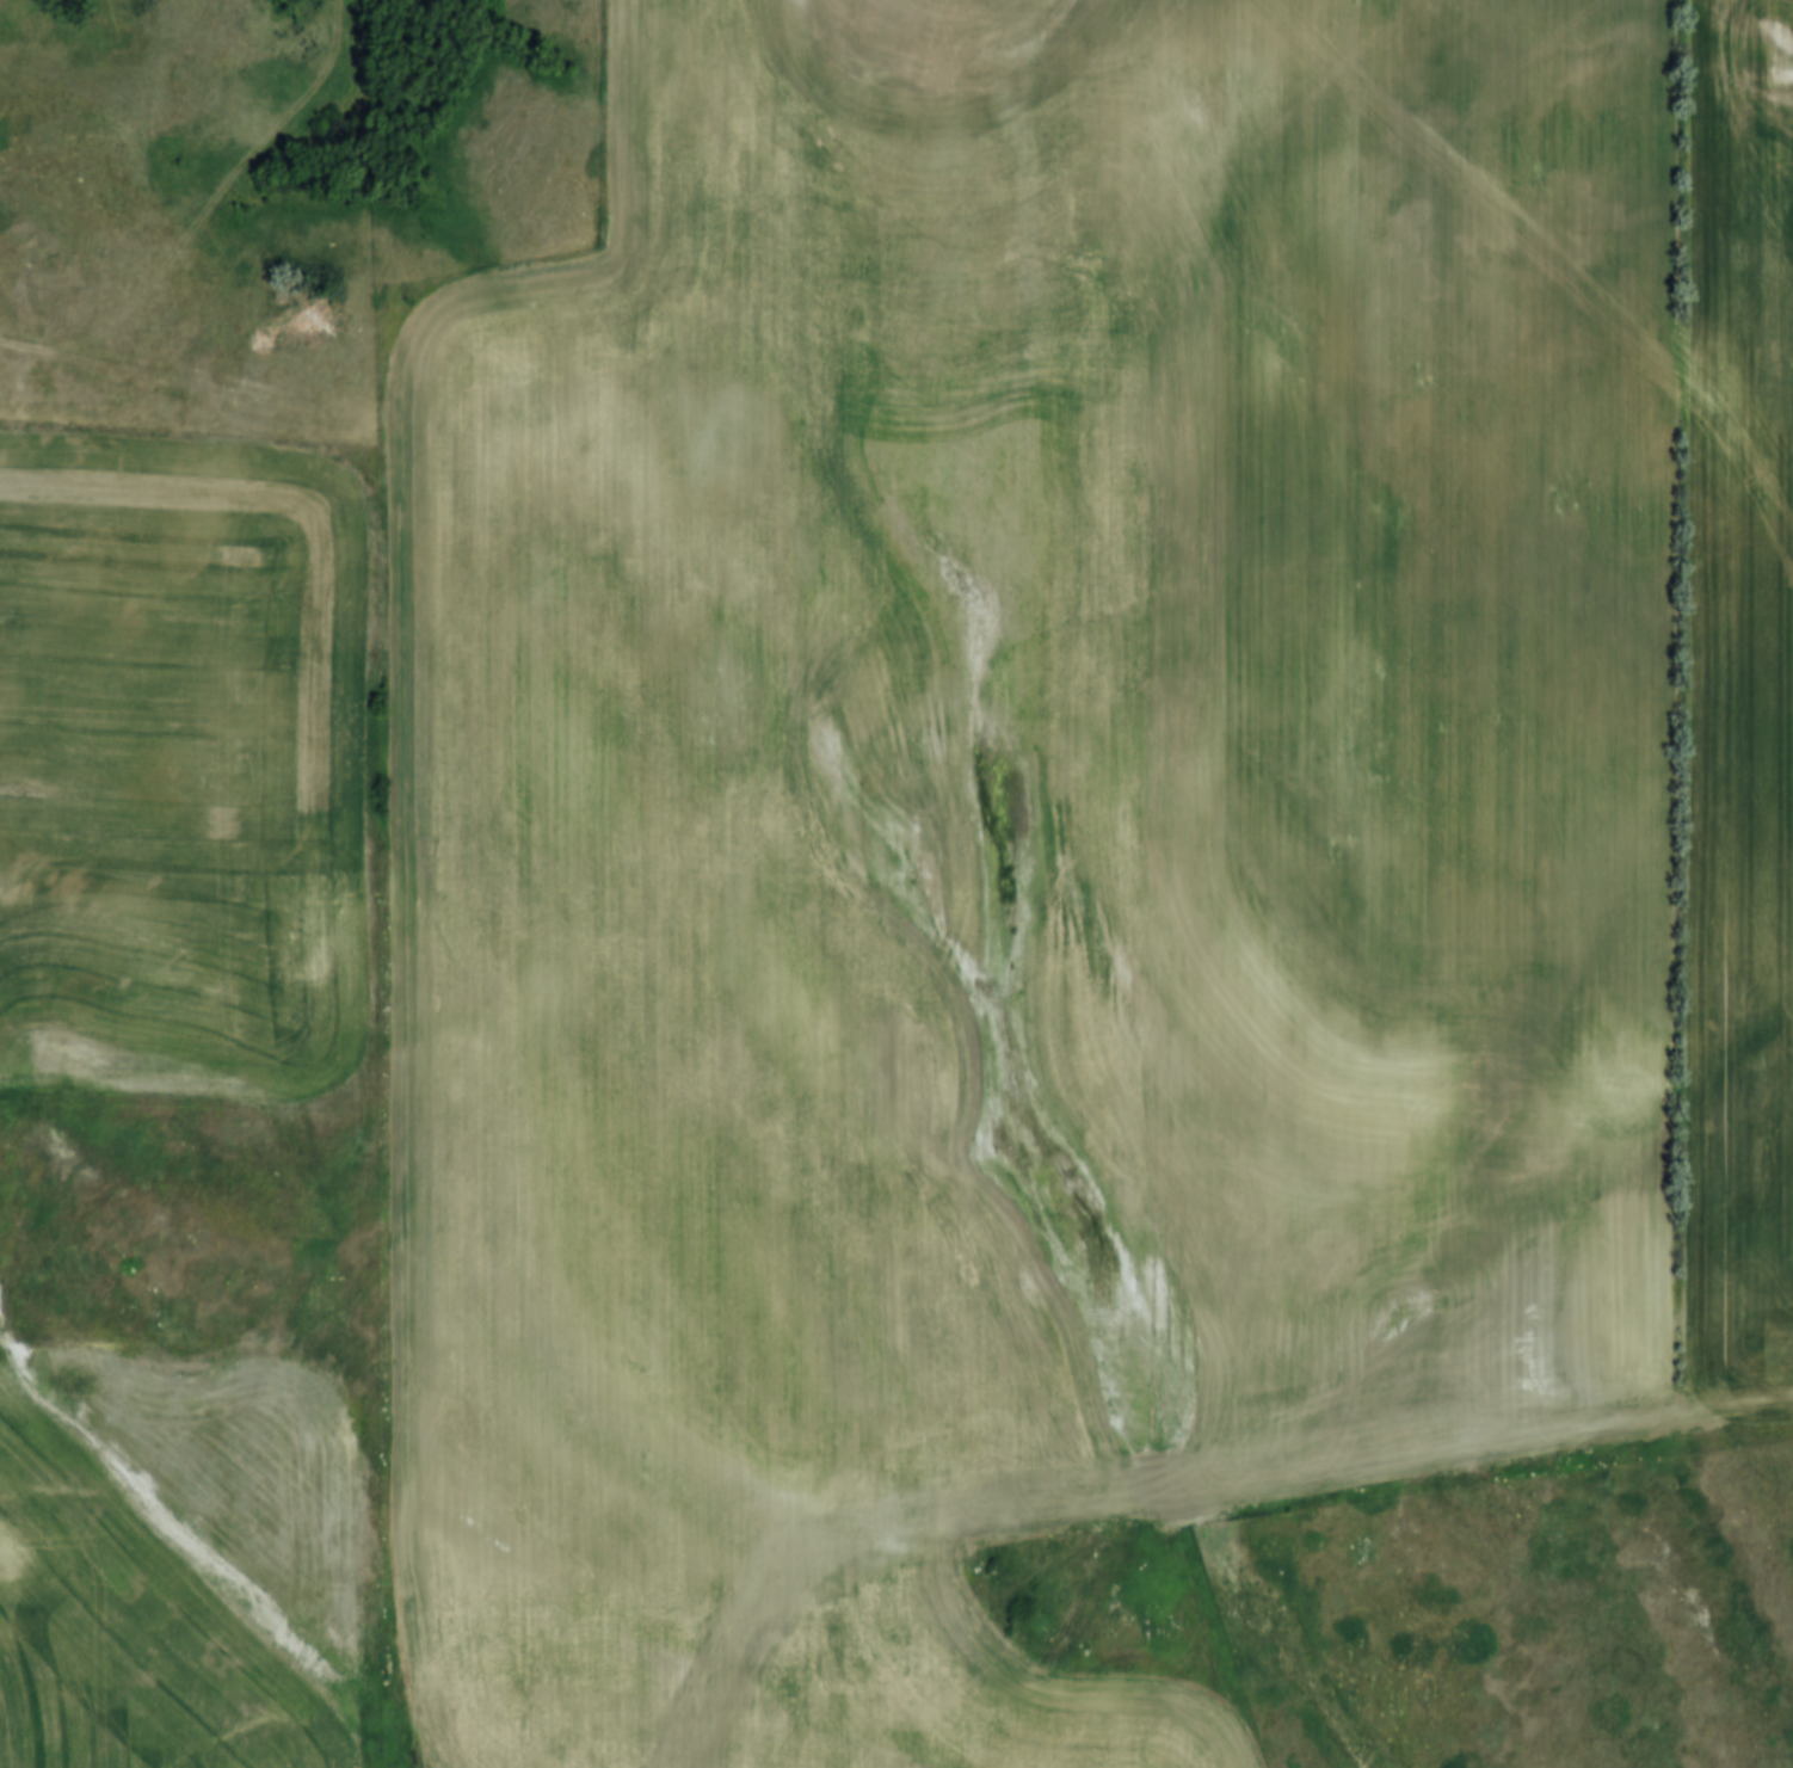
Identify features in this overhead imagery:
road: (180, 381)

